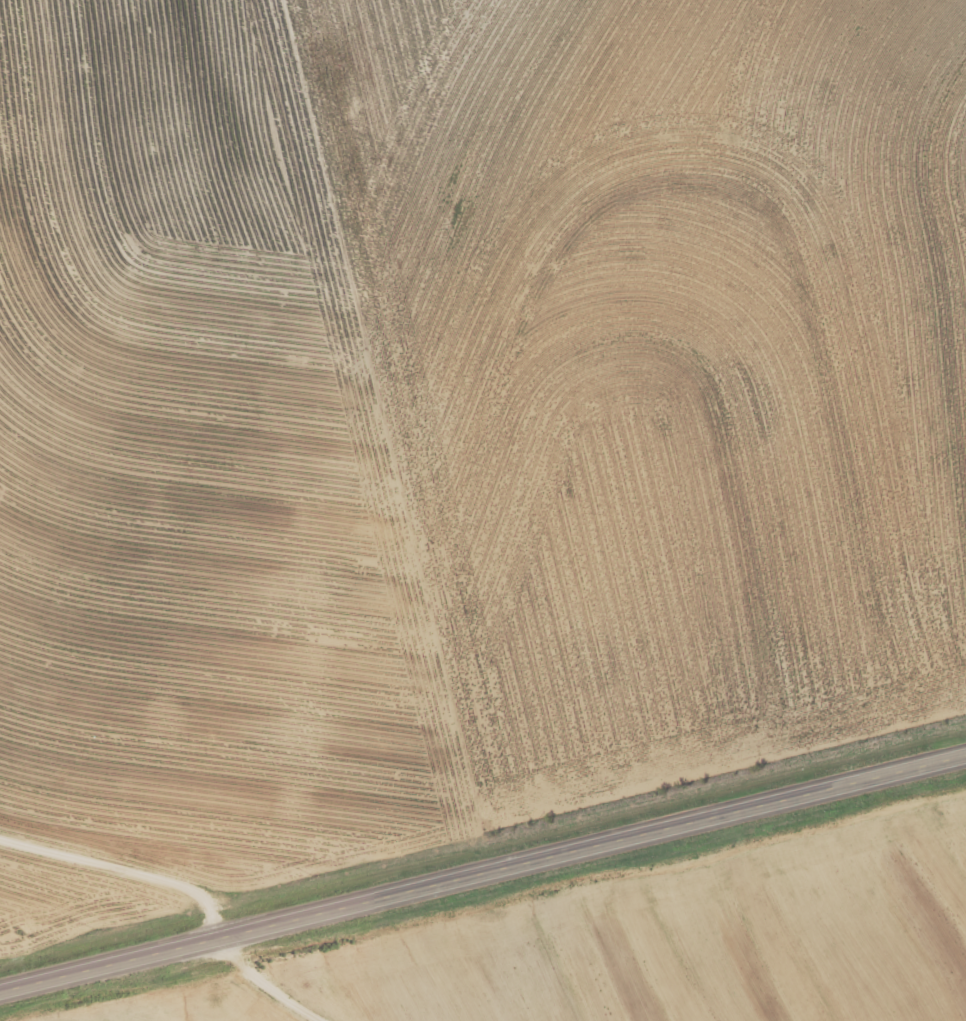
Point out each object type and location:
road: (483, 869)
road: (121, 871)
road: (261, 984)

